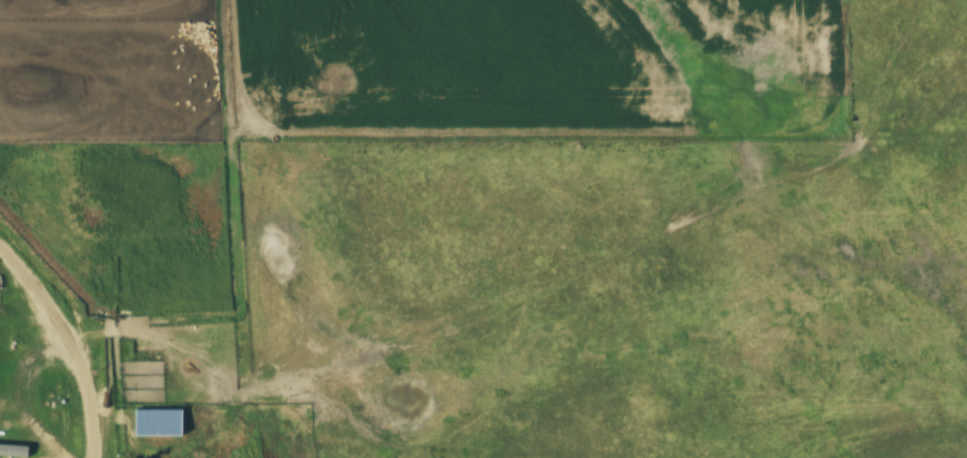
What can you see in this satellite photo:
building: (17, 452)

